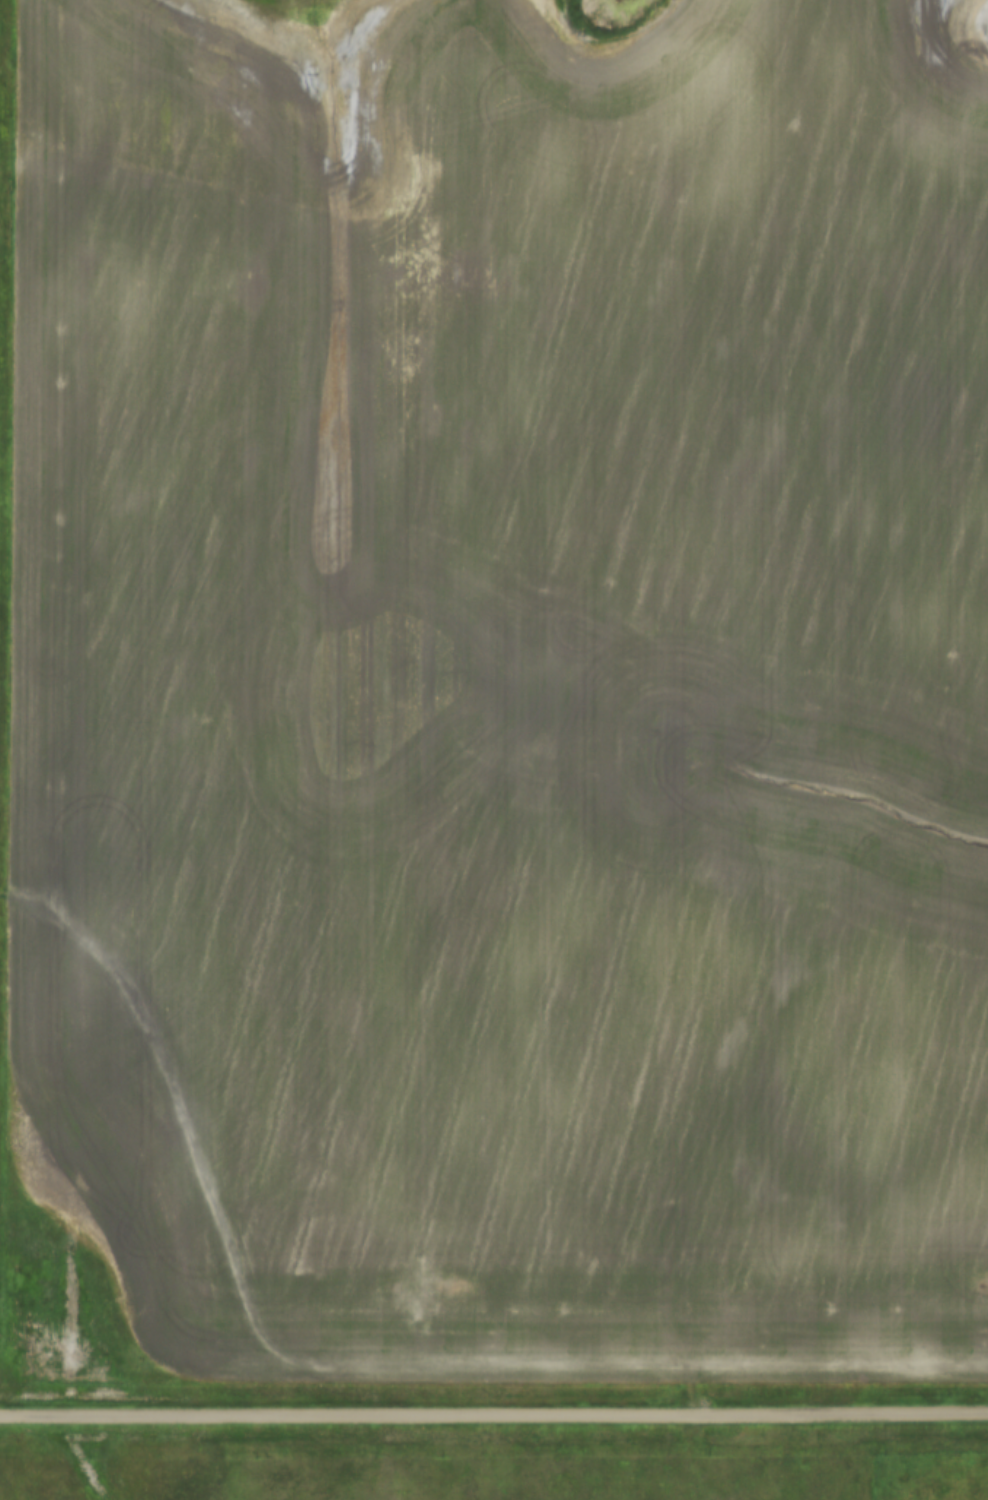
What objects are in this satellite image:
road: (493, 1418)

